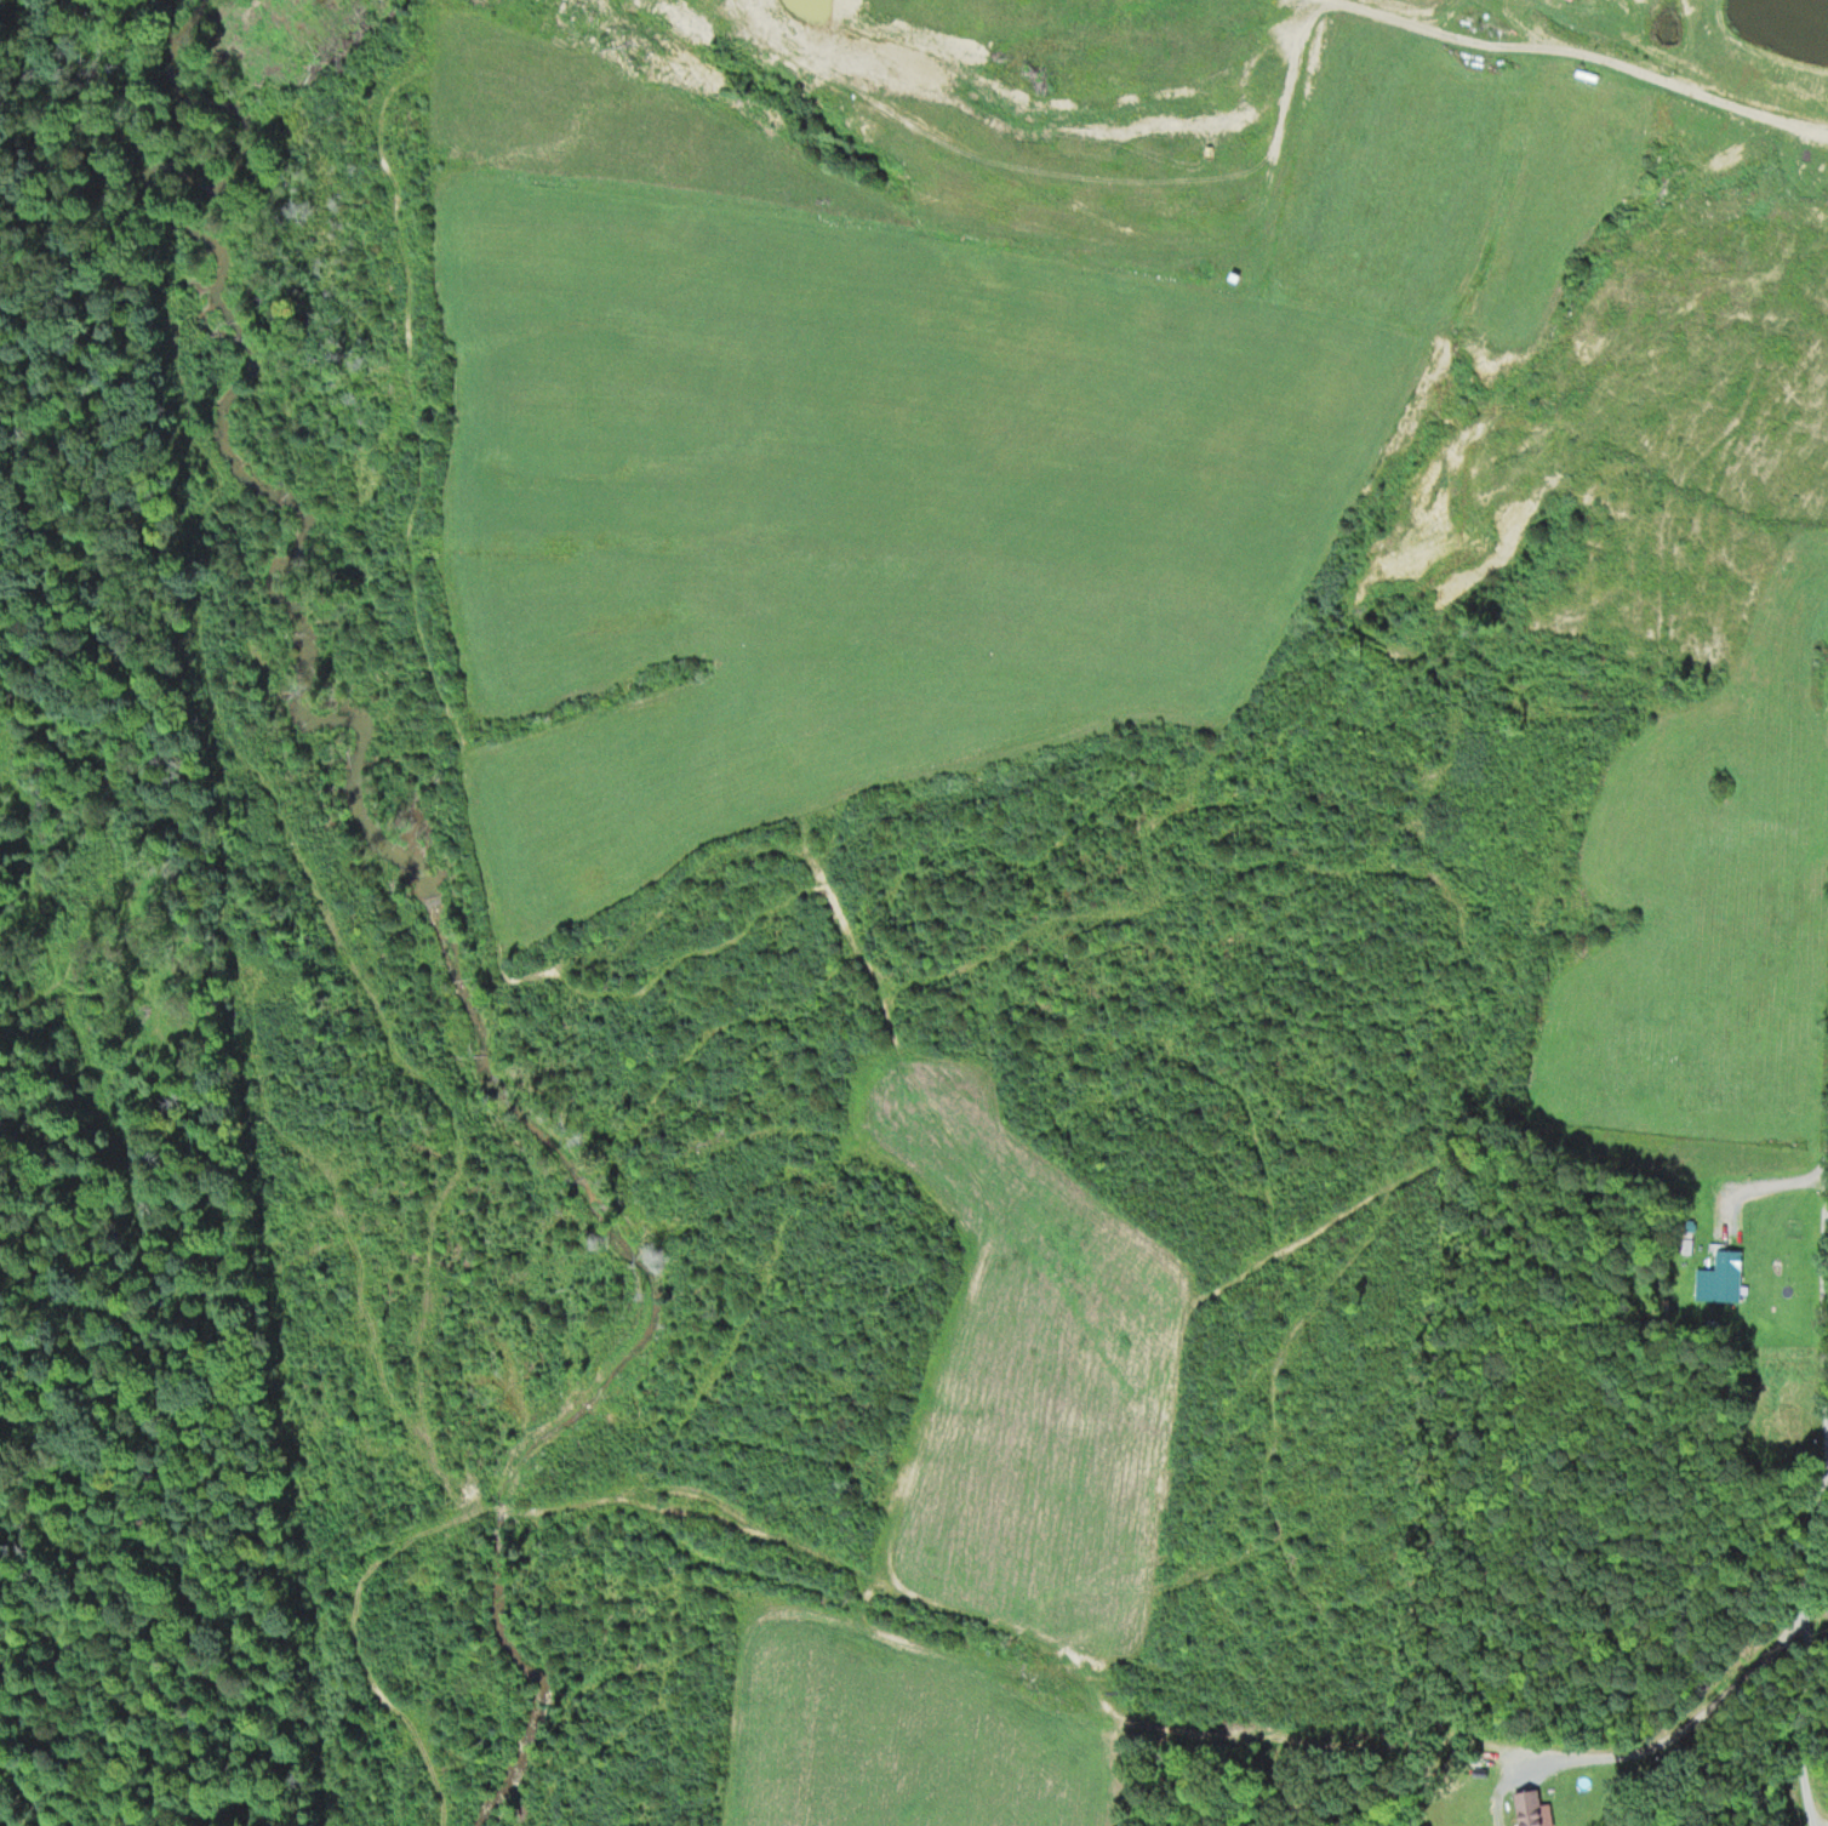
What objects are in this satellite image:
building: (1564, 0)
building: (1716, 1277)
road: (1817, 1303)
road: (944, 1627)
building: (1523, 1808)

